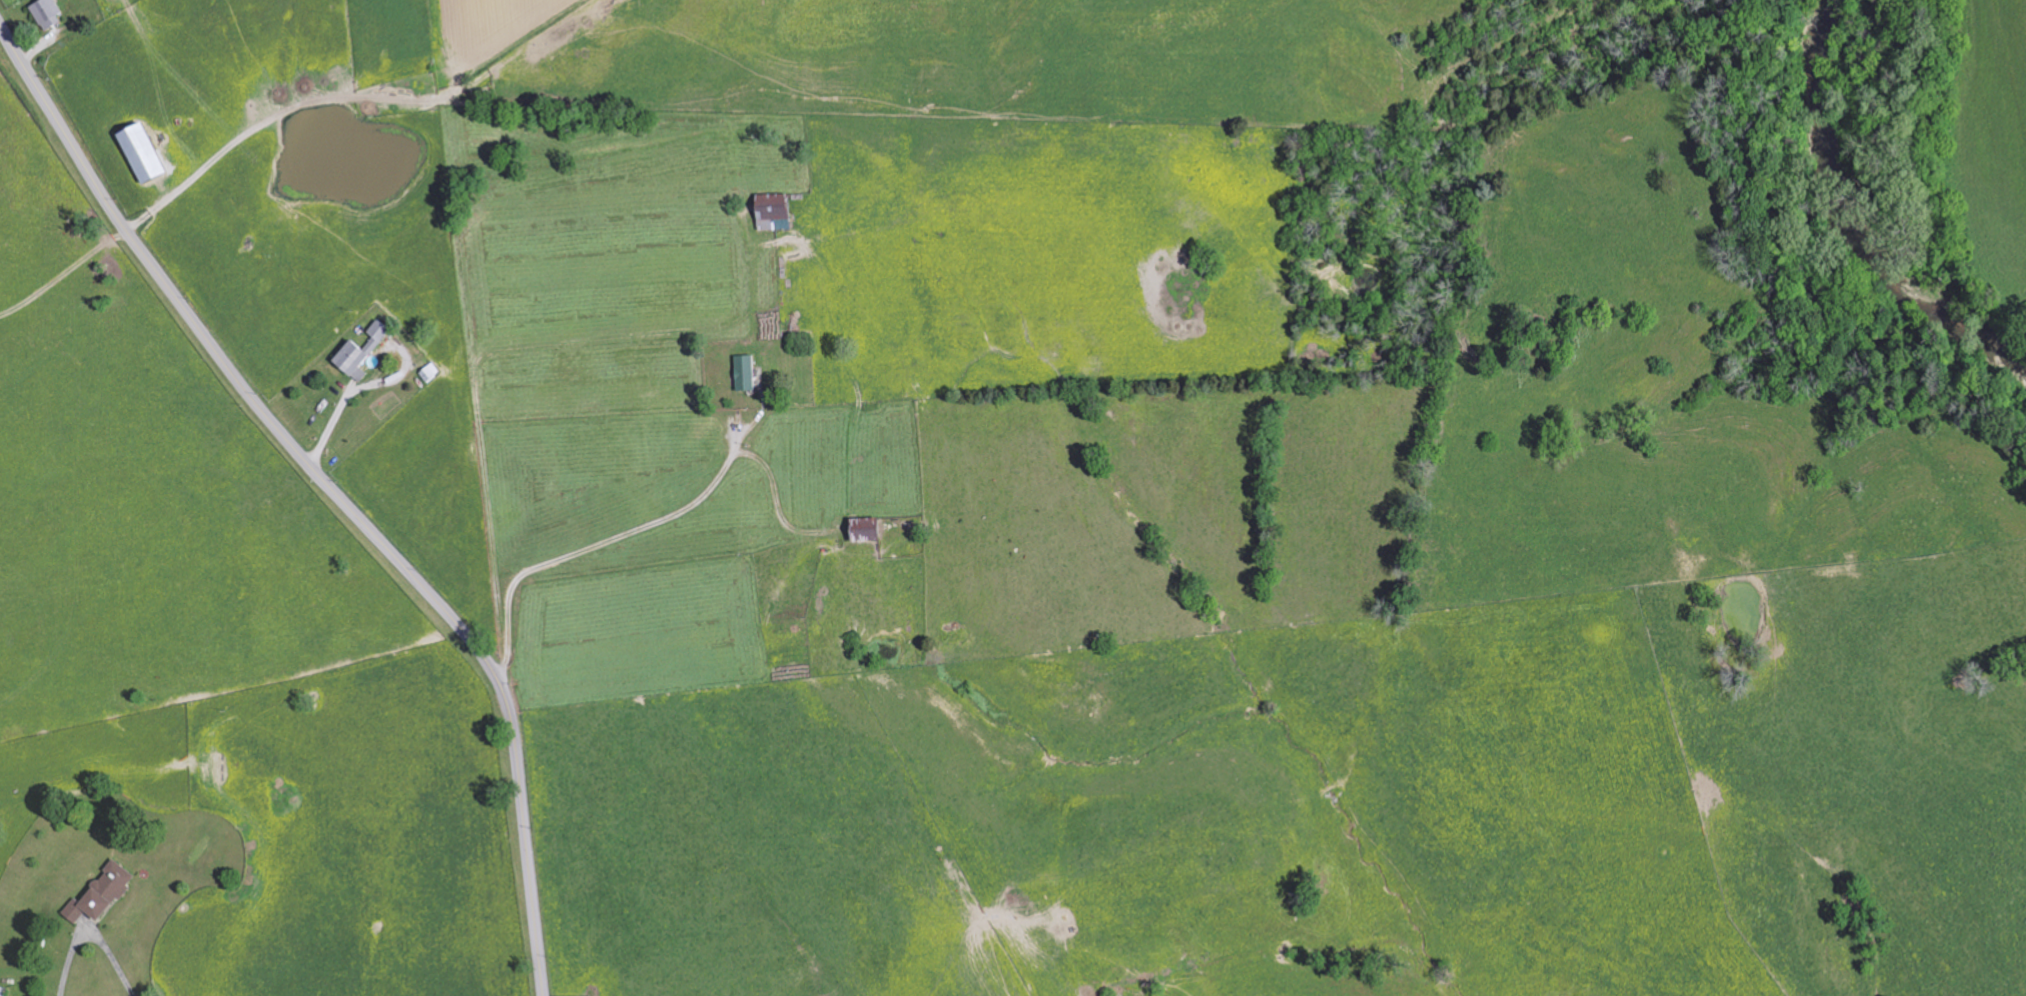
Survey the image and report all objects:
building: (46, 14)
building: (138, 153)
building: (772, 213)
building: (358, 354)
building: (743, 374)
road: (353, 391)
road: (332, 488)
road: (650, 525)
building: (862, 529)
building: (107, 894)
road: (90, 930)
building: (5, 990)

